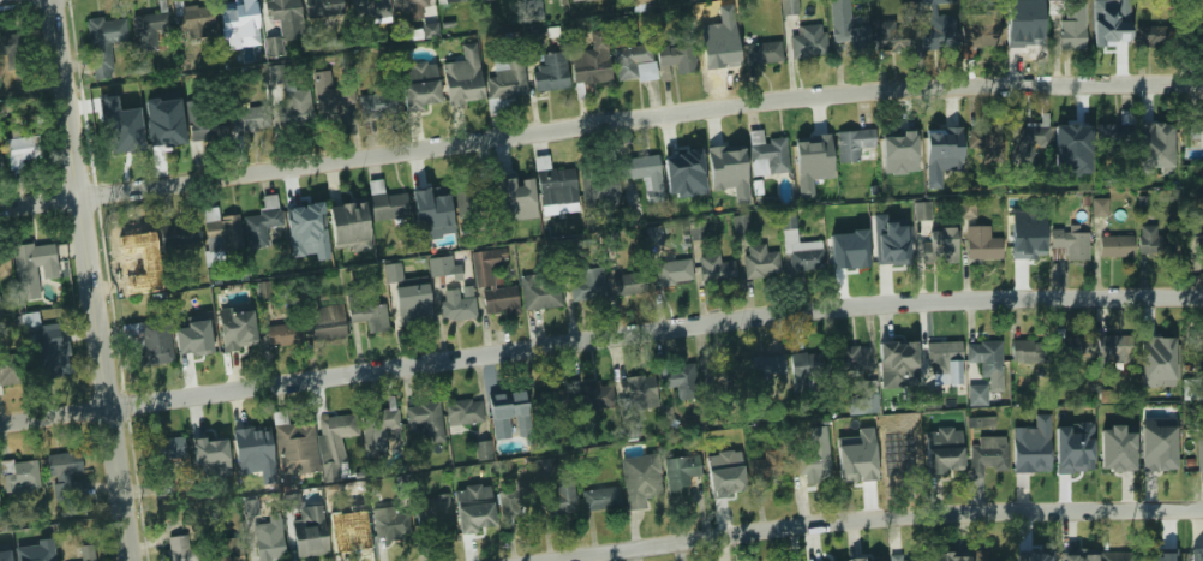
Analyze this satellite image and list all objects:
building: (453, 0)
building: (580, 0)
building: (639, 1)
building: (932, 2)
building: (408, 4)
building: (788, 7)
building: (322, 8)
building: (370, 8)
building: (534, 10)
building: (241, 19)
building: (191, 20)
building: (282, 22)
building: (1111, 29)
building: (148, 30)
building: (430, 30)
building: (940, 32)
building: (976, 32)
building: (1071, 34)
building: (1023, 35)
building: (1151, 36)
building: (103, 37)
building: (849, 40)
building: (893, 40)
building: (808, 42)
building: (13, 52)
building: (762, 54)
building: (717, 55)
building: (678, 59)
building: (592, 60)
building: (634, 64)
building: (550, 73)
building: (275, 76)
building: (507, 77)
building: (463, 92)
building: (421, 95)
building: (333, 101)
building: (377, 105)
building: (297, 107)
building: (246, 121)
road: (599, 124)
building: (122, 126)
building: (199, 127)
building: (1196, 131)
building: (164, 133)
building: (1117, 136)
building: (1153, 139)
building: (940, 141)
building: (1025, 142)
building: (1071, 142)
building: (897, 143)
building: (851, 145)
building: (984, 145)
building: (23, 151)
building: (809, 151)
building: (766, 155)
building: (728, 160)
building: (682, 163)
building: (645, 171)
building: (556, 185)
building: (593, 186)
building: (514, 187)
building: (475, 190)
building: (427, 203)
building: (389, 207)
building: (968, 208)
building: (1100, 208)
building: (346, 210)
building: (921, 210)
building: (217, 220)
building: (261, 223)
building: (740, 225)
building: (306, 226)
building: (654, 235)
building: (180, 238)
building: (1153, 240)
building: (611, 241)
building: (1027, 241)
building: (893, 243)
building: (137, 244)
building: (982, 244)
building: (1070, 244)
building: (361, 246)
building: (1115, 246)
building: (798, 247)
building: (936, 249)
building: (848, 251)
building: (2, 261)
building: (30, 261)
building: (760, 262)
building: (436, 267)
building: (714, 271)
building: (393, 274)
building: (675, 279)
road: (95, 280)
building: (139, 282)
building: (492, 285)
building: (628, 285)
building: (586, 286)
building: (264, 291)
building: (540, 292)
building: (413, 306)
building: (455, 306)
building: (366, 314)
building: (31, 322)
building: (327, 323)
building: (237, 329)
building: (283, 334)
road: (599, 339)
building: (1202, 339)
building: (146, 342)
building: (196, 345)
building: (1072, 347)
building: (1112, 347)
building: (48, 353)
building: (1024, 353)
building: (987, 357)
building: (1156, 357)
building: (940, 358)
building: (851, 360)
building: (897, 363)
building: (7, 368)
building: (806, 370)
building: (764, 371)
building: (718, 378)
building: (680, 380)
building: (638, 393)
building: (978, 395)
building: (589, 396)
building: (866, 400)
building: (552, 402)
building: (504, 411)
building: (462, 412)
building: (426, 420)
building: (982, 422)
building: (632, 429)
building: (377, 430)
building: (944, 436)
building: (253, 442)
building: (333, 443)
building: (295, 447)
building: (207, 448)
building: (484, 450)
building: (944, 453)
building: (168, 454)
building: (1030, 454)
building: (1199, 454)
building: (814, 455)
building: (987, 455)
building: (1155, 455)
building: (1113, 458)
building: (1075, 460)
building: (852, 461)
building: (900, 464)
building: (66, 466)
building: (546, 466)
building: (765, 467)
building: (725, 472)
building: (19, 475)
building: (680, 475)
building: (640, 478)
building: (473, 493)
building: (563, 495)
building: (603, 499)
building: (514, 506)
building: (0, 508)
building: (472, 512)
building: (436, 515)
road: (873, 517)
building: (389, 524)
building: (345, 526)
building: (268, 539)
building: (305, 542)
building: (178, 549)
building: (228, 550)
building: (38, 551)
building: (86, 553)
building: (1160, 554)
building: (5, 555)
building: (1042, 555)
building: (1197, 555)
building: (952, 556)
building: (1117, 556)
building: (897, 557)
building: (1075, 557)
building: (857, 559)
building: (987, 559)
building: (908, 560)
building: (927, 560)

